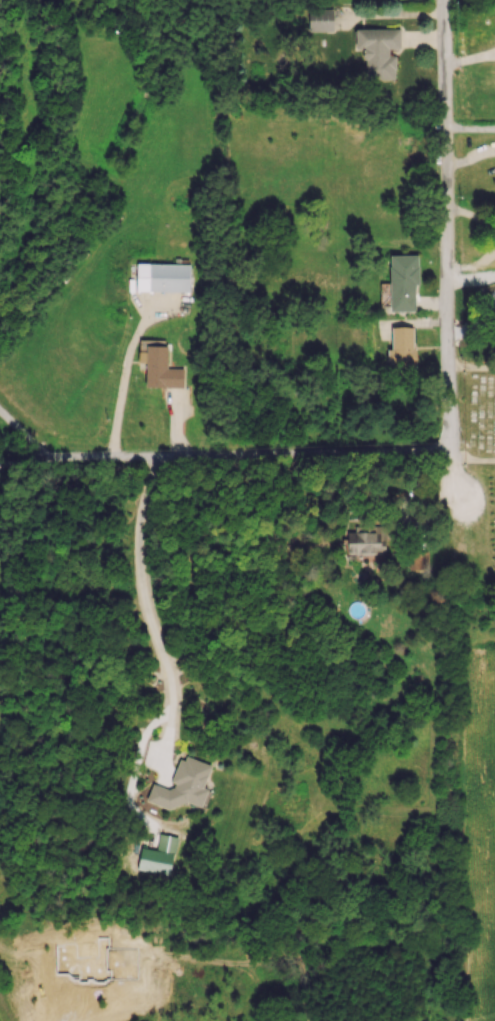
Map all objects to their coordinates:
building: (319, 19)
building: (378, 52)
road: (469, 126)
road: (471, 219)
road: (445, 253)
road: (472, 273)
building: (162, 277)
building: (402, 281)
building: (383, 294)
building: (401, 347)
building: (160, 369)
road: (123, 386)
road: (22, 436)
road: (22, 459)
road: (247, 461)
road: (473, 463)
building: (364, 540)
building: (418, 561)
road: (148, 613)
building: (185, 786)
building: (160, 854)

